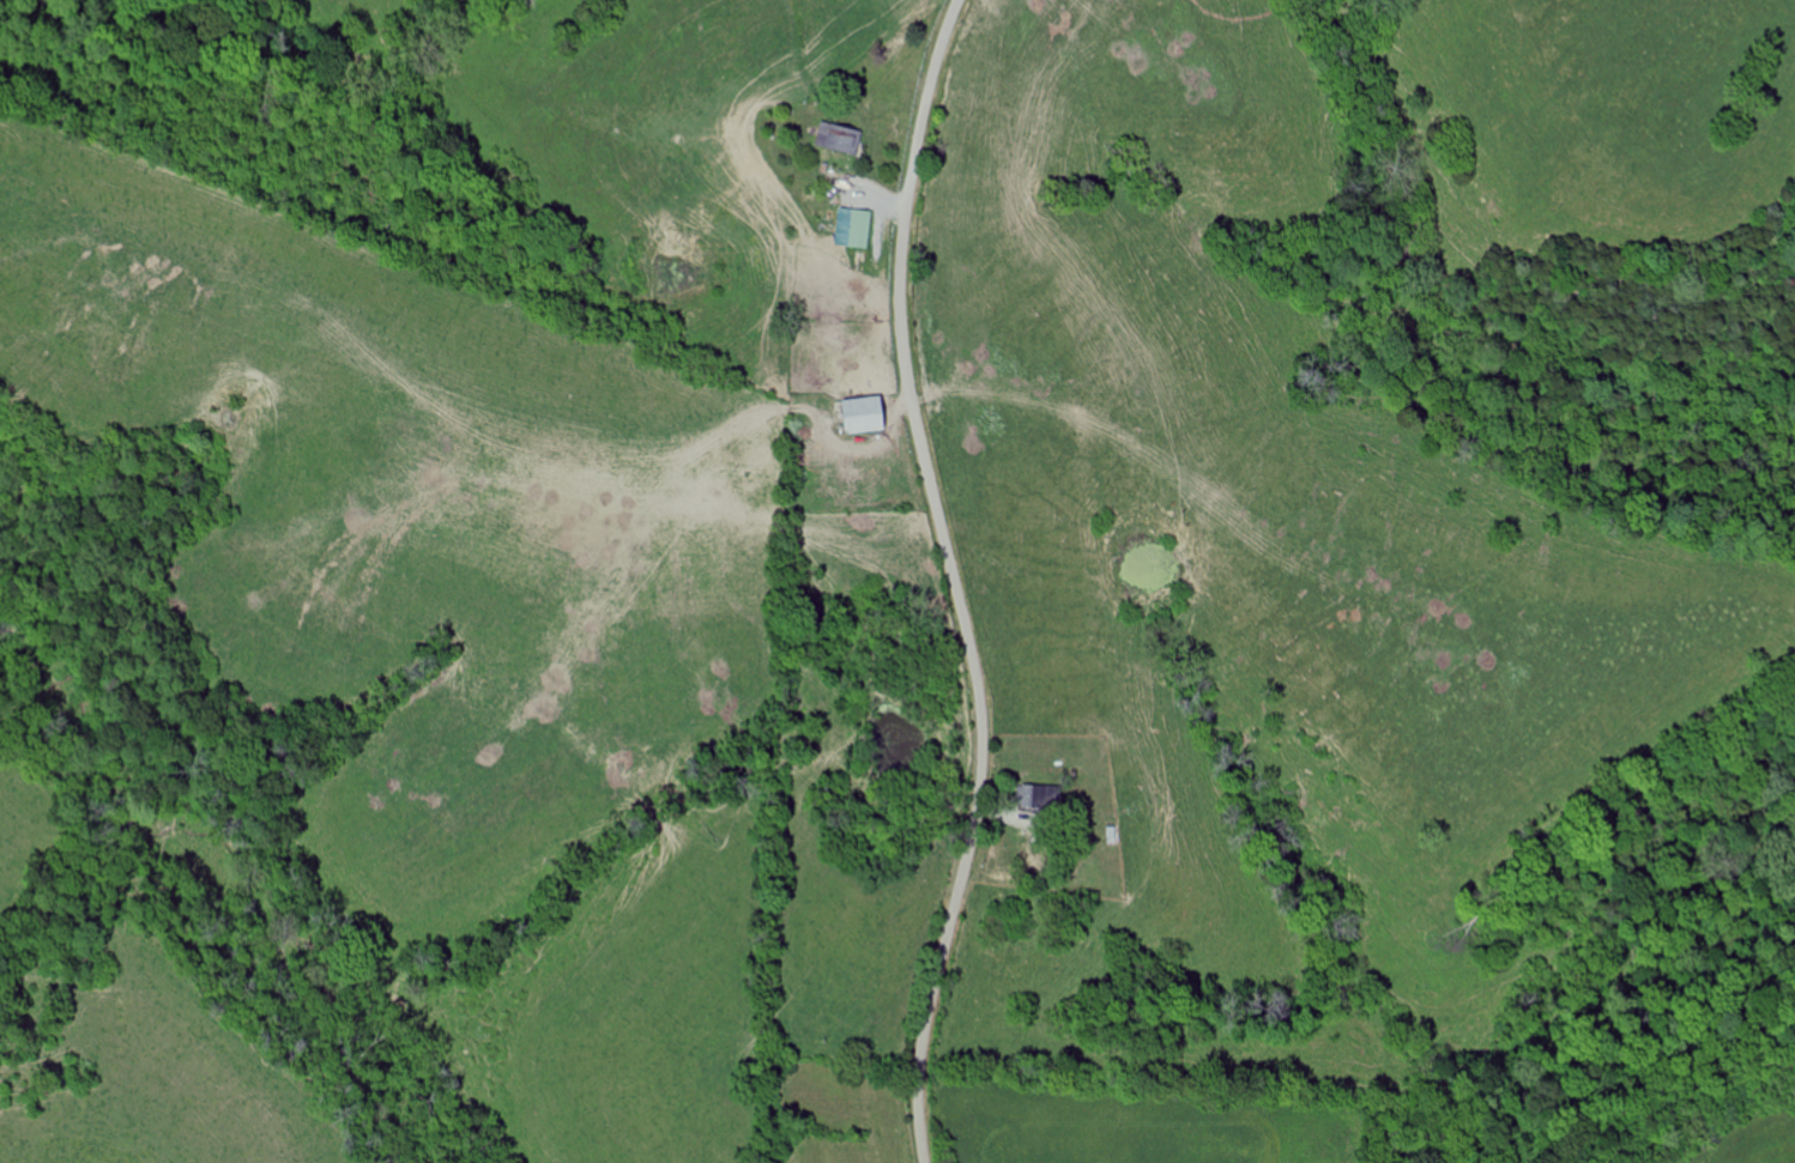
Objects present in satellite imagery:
building: (841, 139)
building: (863, 230)
building: (870, 414)
road: (955, 580)
building: (1041, 799)

